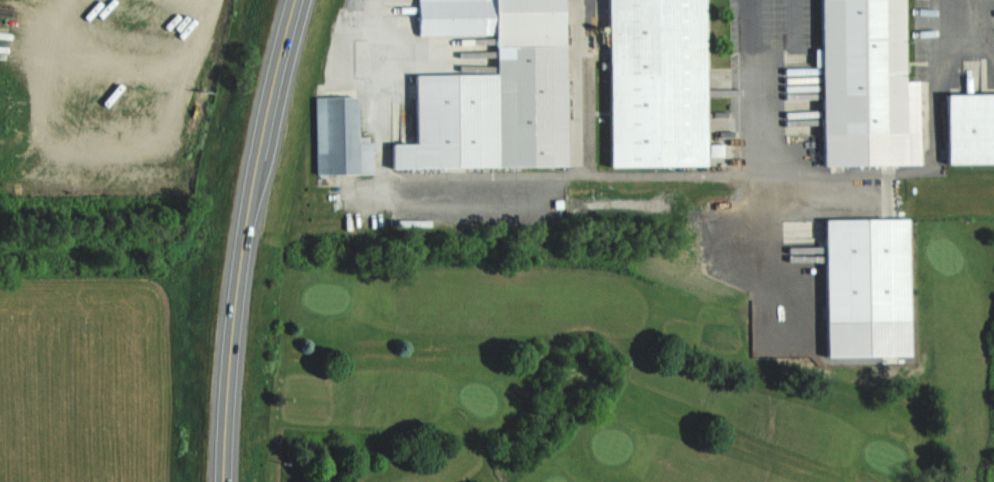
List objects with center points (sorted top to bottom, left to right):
building: (654, 82)
building: (864, 85)
building: (491, 89)
building: (969, 128)
building: (338, 137)
road: (477, 181)
road: (241, 238)
building: (863, 286)
park: (612, 380)
crop: (83, 381)

